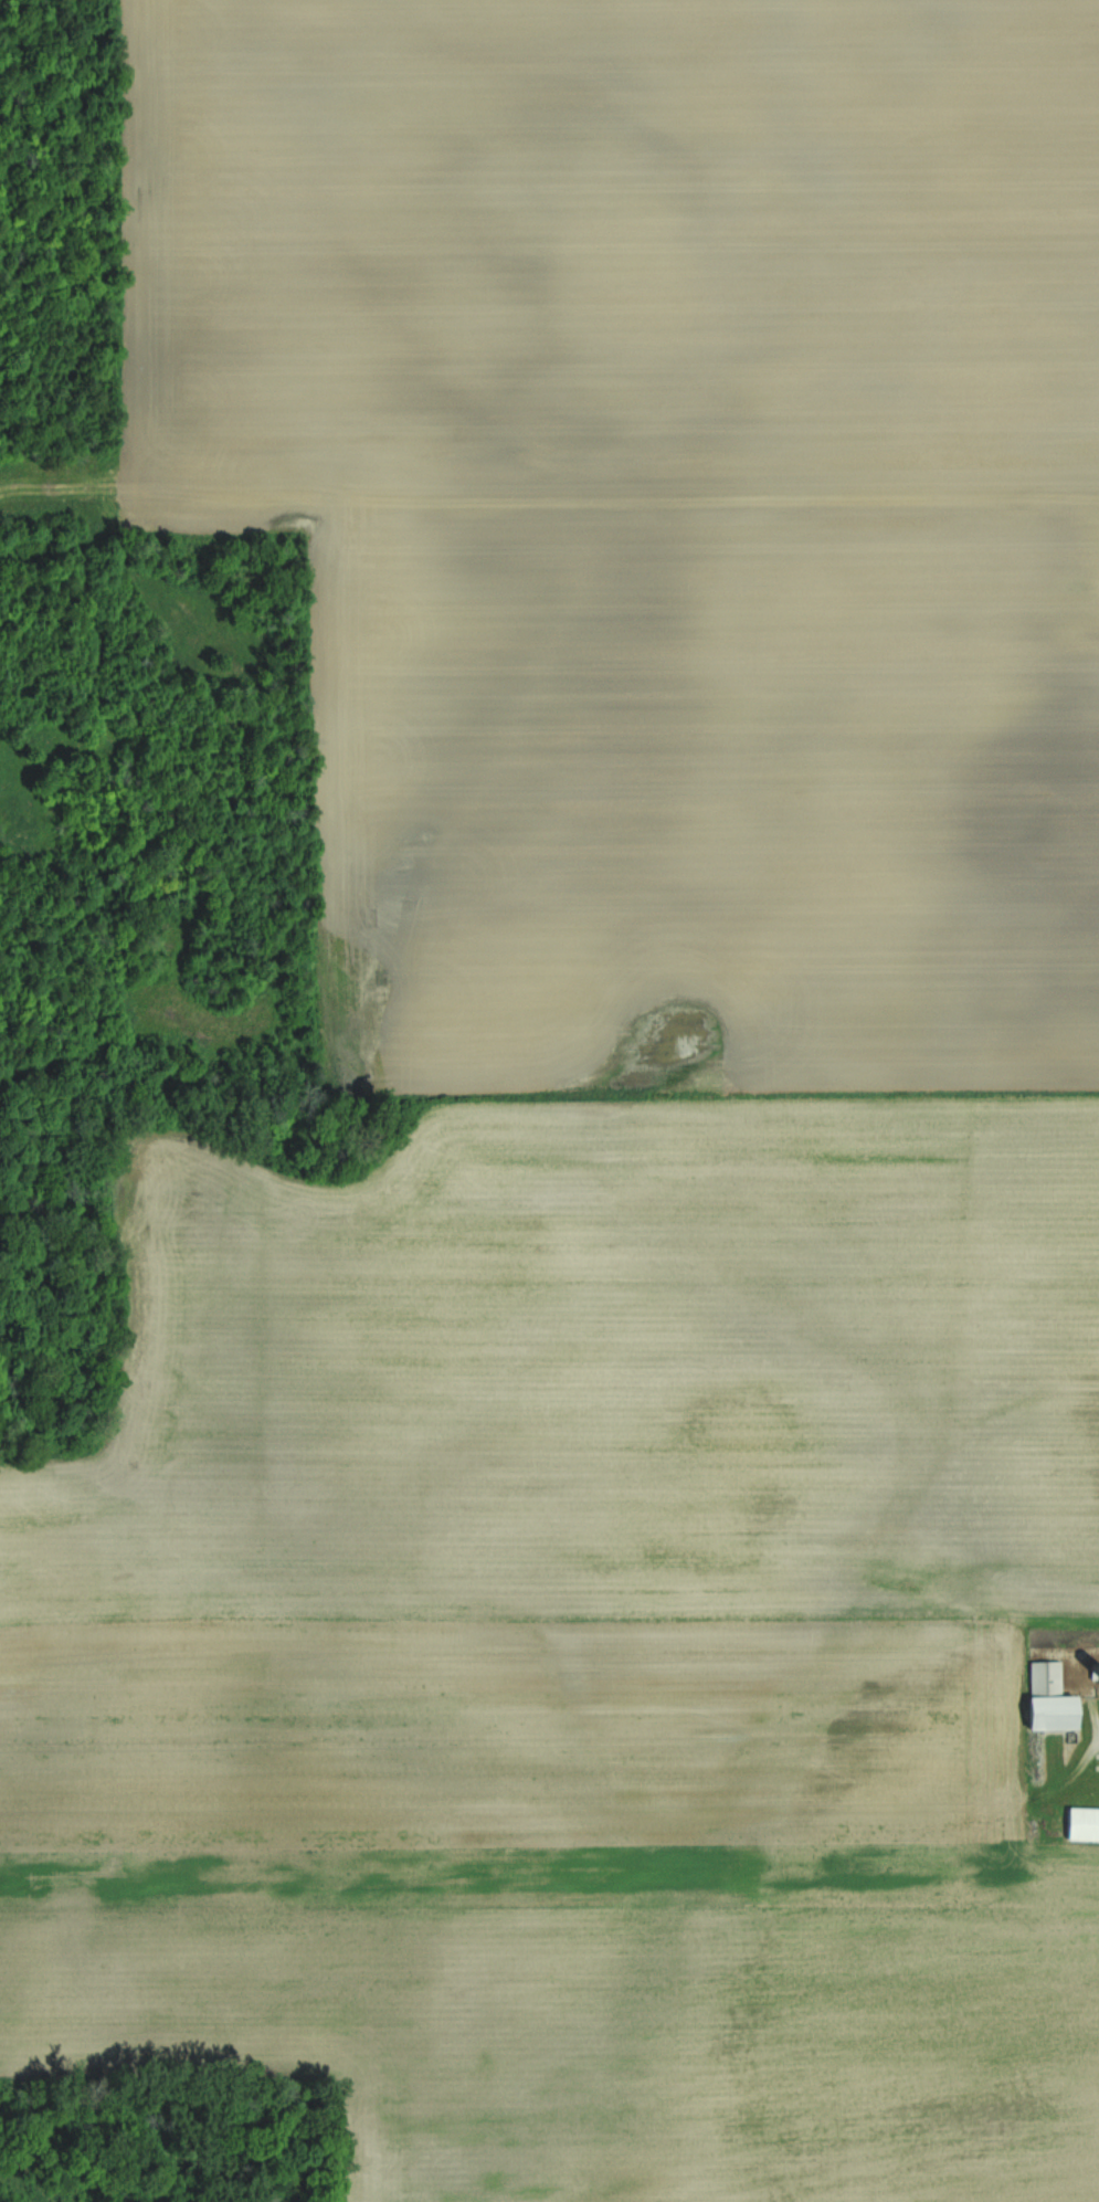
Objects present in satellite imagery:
building: (1098, 1675)
building: (1049, 1699)
building: (1084, 1825)

